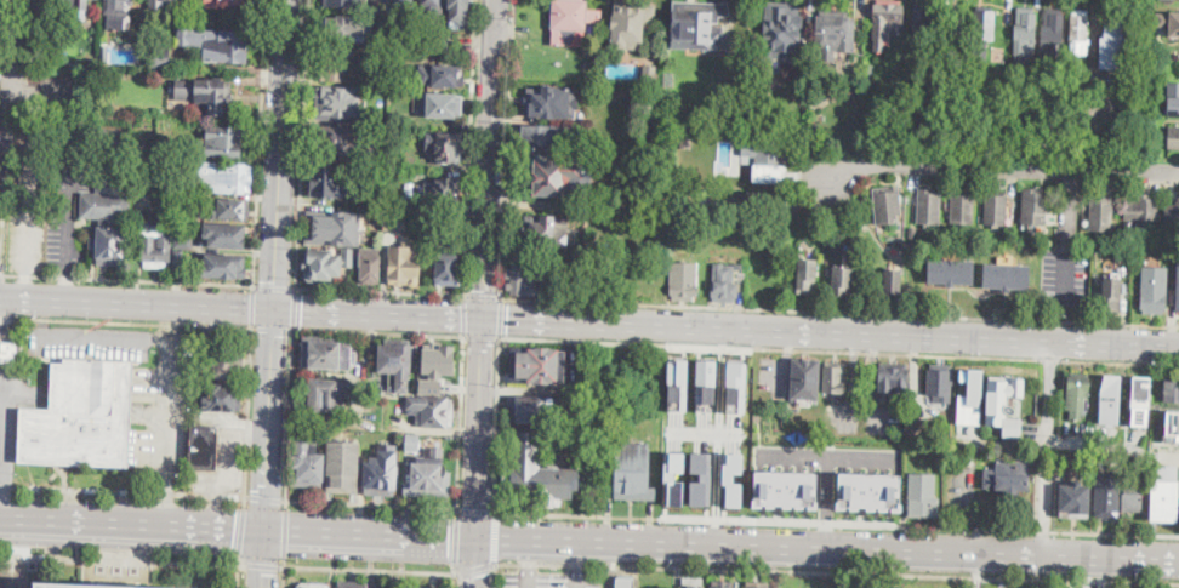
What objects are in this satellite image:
building: (224, 1)
building: (17, 2)
building: (342, 2)
building: (165, 4)
building: (375, 7)
building: (76, 8)
building: (458, 10)
building: (403, 11)
building: (431, 12)
building: (118, 13)
building: (571, 19)
building: (885, 19)
building: (1160, 21)
building: (631, 22)
building: (922, 22)
building: (697, 24)
building: (344, 28)
building: (957, 29)
building: (1168, 30)
building: (781, 32)
building: (1078, 32)
building: (1052, 33)
building: (835, 34)
building: (982, 34)
building: (1025, 34)
building: (30, 39)
building: (382, 39)
building: (142, 40)
building: (215, 42)
building: (1112, 44)
building: (589, 51)
building: (106, 53)
building: (159, 57)
building: (399, 59)
building: (92, 64)
building: (335, 64)
building: (870, 70)
building: (650, 72)
building: (440, 75)
building: (670, 78)
building: (955, 85)
building: (741, 86)
road: (16, 89)
parking lot: (44, 90)
building: (205, 96)
building: (552, 99)
building: (1173, 99)
building: (337, 102)
building: (444, 104)
building: (403, 121)
building: (450, 125)
building: (818, 127)
building: (542, 135)
building: (939, 137)
building: (974, 137)
building: (1172, 137)
building: (222, 141)
building: (661, 141)
road: (261, 142)
building: (340, 142)
building: (687, 142)
road: (301, 143)
building: (444, 144)
road: (469, 147)
road: (109, 148)
road: (507, 148)
building: (144, 153)
parking lot: (4, 154)
building: (768, 154)
road: (489, 159)
road: (998, 165)
building: (393, 169)
building: (769, 172)
parking lot: (81, 173)
building: (554, 176)
building: (224, 177)
building: (330, 179)
road: (69, 192)
building: (444, 193)
parking lot: (29, 195)
road: (30, 199)
building: (762, 201)
building: (887, 205)
building: (1035, 205)
building: (928, 206)
building: (962, 206)
building: (995, 207)
building: (1141, 207)
building: (222, 209)
building: (1099, 212)
building: (1172, 212)
building: (679, 213)
building: (395, 218)
building: (109, 219)
building: (332, 227)
building: (706, 228)
building: (912, 230)
building: (549, 232)
building: (221, 235)
road: (1063, 235)
building: (1113, 238)
building: (155, 242)
building: (181, 249)
building: (1101, 253)
building: (1115, 255)
building: (348, 256)
parking lot: (0, 263)
building: (321, 263)
building: (221, 264)
road: (277, 264)
building: (369, 264)
building: (404, 264)
building: (739, 264)
building: (446, 269)
building: (950, 272)
building: (805, 275)
building: (1006, 275)
building: (525, 278)
road: (127, 279)
building: (560, 280)
building: (892, 280)
traffic signals: (277, 281)
building: (683, 281)
building: (842, 281)
road: (67, 282)
building: (723, 284)
road: (25, 285)
road: (275, 285)
building: (1177, 286)
traffic signals: (484, 289)
building: (1154, 290)
road: (381, 291)
building: (1111, 292)
road: (484, 296)
road: (254, 306)
road: (295, 308)
road: (241, 309)
road: (841, 310)
traffic signals: (302, 313)
road: (170, 314)
road: (465, 314)
road: (500, 316)
road: (126, 320)
traffic signals: (507, 321)
road: (273, 327)
parking lot: (4, 329)
road: (380, 331)
road: (110, 335)
traffic signals: (274, 335)
road: (482, 335)
road: (831, 335)
parking lot: (91, 341)
traffic signals: (483, 342)
road: (839, 350)
building: (10, 354)
building: (330, 355)
building: (439, 358)
building: (223, 361)
building: (397, 362)
building: (537, 365)
building: (832, 377)
building: (892, 378)
building: (804, 379)
building: (705, 382)
building: (677, 383)
building: (429, 384)
building: (736, 384)
building: (939, 384)
building: (1169, 390)
building: (1078, 393)
building: (323, 394)
building: (972, 396)
building: (218, 398)
building: (1110, 398)
building: (1140, 400)
building: (1003, 401)
building: (432, 407)
building: (528, 409)
parking lot: (12, 411)
building: (81, 416)
road: (247, 417)
road: (290, 418)
road: (461, 422)
road: (497, 424)
building: (1172, 424)
road: (479, 427)
building: (1090, 428)
road: (5, 429)
road: (166, 432)
road: (705, 432)
road: (718, 438)
building: (412, 443)
building: (203, 447)
road: (1048, 450)
road: (827, 455)
building: (1088, 458)
building: (307, 466)
building: (342, 466)
building: (381, 472)
building: (537, 473)
building: (633, 473)
building: (673, 475)
building: (429, 476)
building: (728, 476)
building: (1009, 476)
building: (700, 478)
traffic signals: (268, 487)
building: (785, 489)
building: (868, 490)
road: (123, 491)
building: (1133, 491)
building: (1164, 493)
road: (1, 496)
building: (923, 496)
building: (1107, 496)
road: (266, 498)
building: (1076, 501)
road: (826, 502)
traffic signals: (478, 503)
road: (372, 506)
road: (477, 509)
road: (837, 521)
road: (132, 523)
traffic signals: (235, 527)
road: (371, 532)
road: (241, 533)
road: (285, 533)
traffic signals: (449, 535)
road: (496, 538)
road: (456, 540)
road: (827, 549)
road: (530, 550)
road: (577, 553)
road: (263, 558)
road: (123, 560)
road: (474, 561)
road: (264, 565)
road: (475, 567)
road: (369, 569)
road: (837, 571)
traffic signals: (263, 572)
road: (281, 572)
road: (238, 573)
traffic signals: (474, 576)
road: (495, 576)
road: (529, 576)
road: (576, 576)
parking lot: (549, 577)
park: (868, 578)
road: (455, 580)
road: (896, 581)
building: (625, 582)
building: (693, 583)
building: (353, 584)
building: (723, 584)
building: (758, 584)
building: (69, 586)
building: (312, 586)
building: (389, 586)
building: (425, 587)

